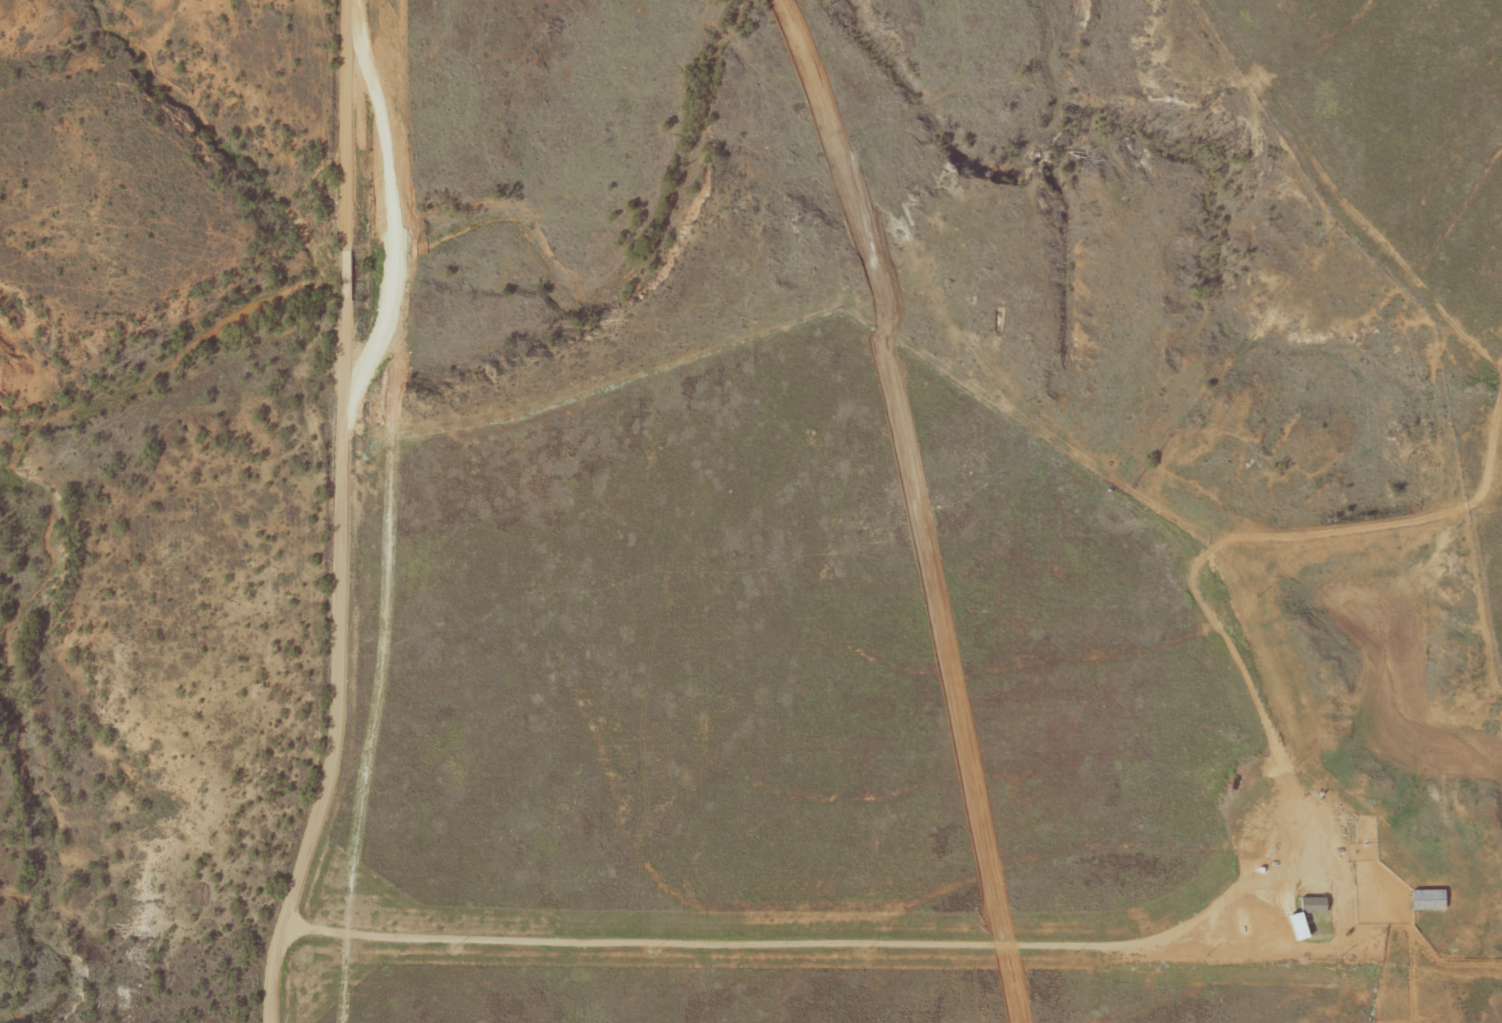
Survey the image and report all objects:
road: (360, 517)
road: (910, 999)

